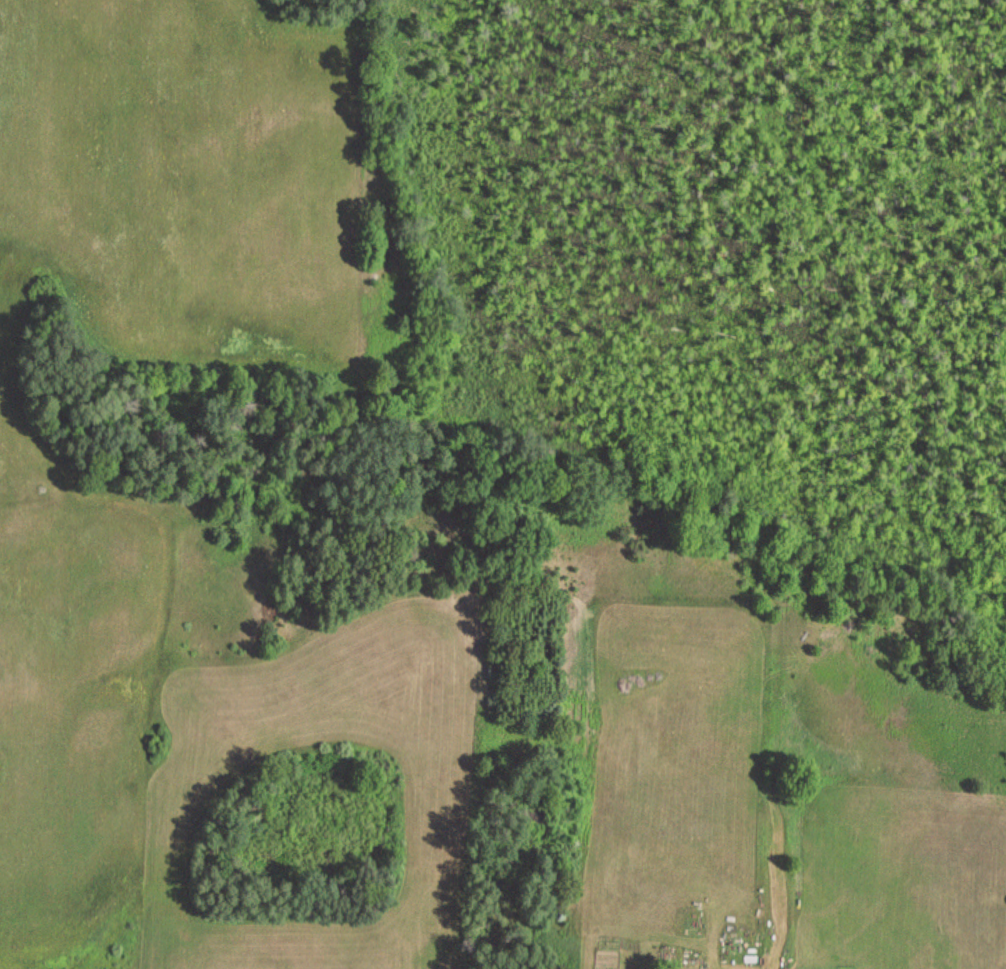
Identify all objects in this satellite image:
crop: (65, 483)

